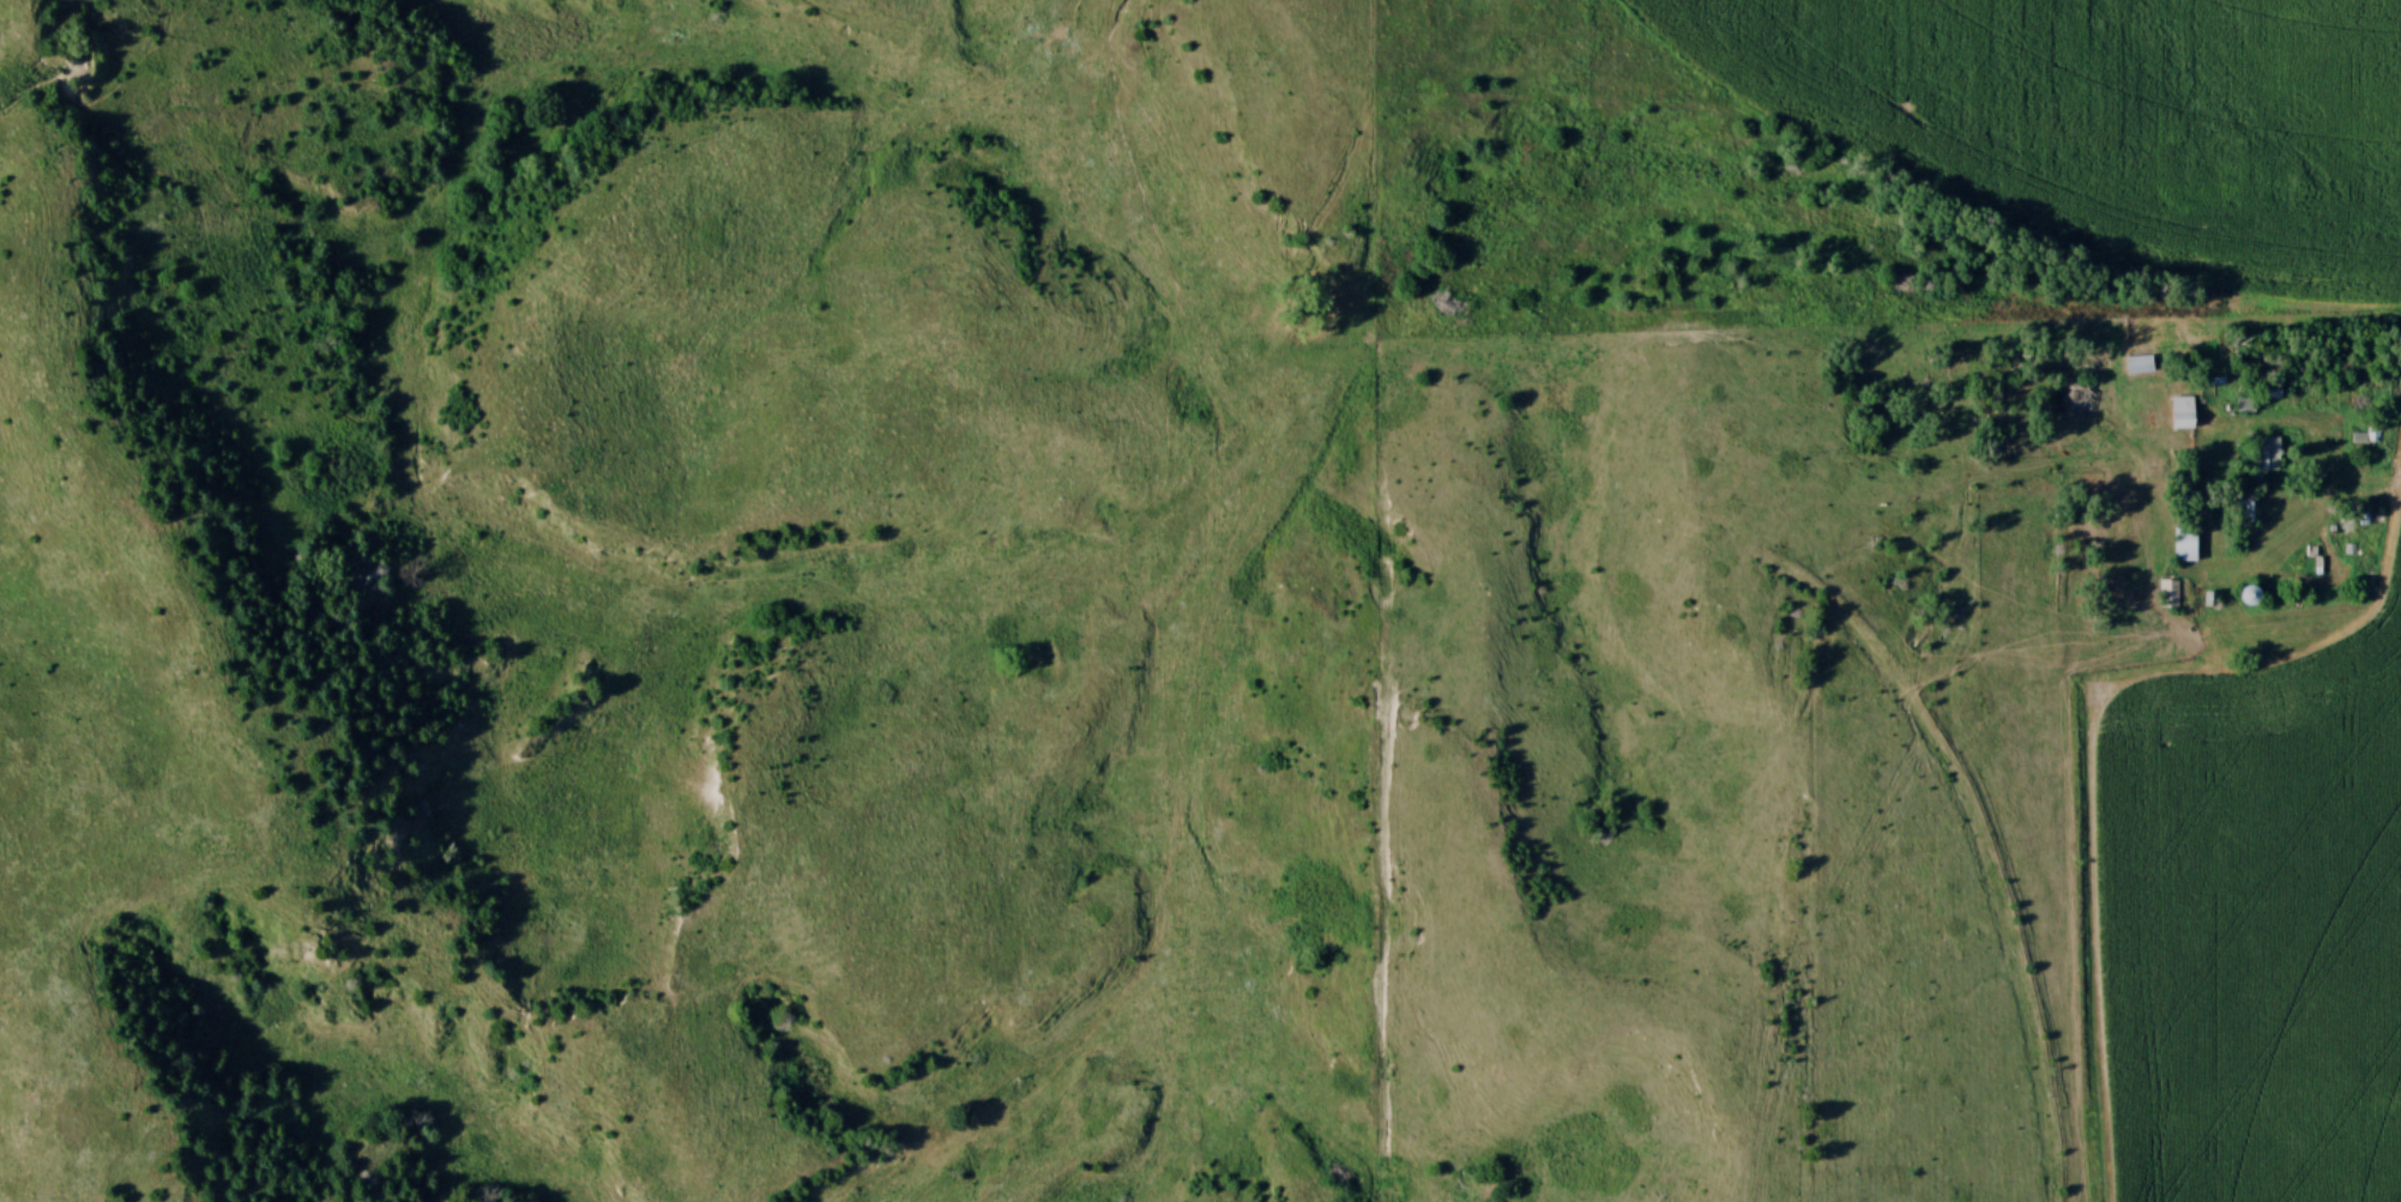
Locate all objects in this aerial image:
building: (2141, 363)
building: (2183, 412)
building: (2360, 437)
building: (2266, 455)
building: (2122, 478)
building: (2245, 505)
road: (2343, 505)
building: (2185, 539)
building: (2170, 594)

